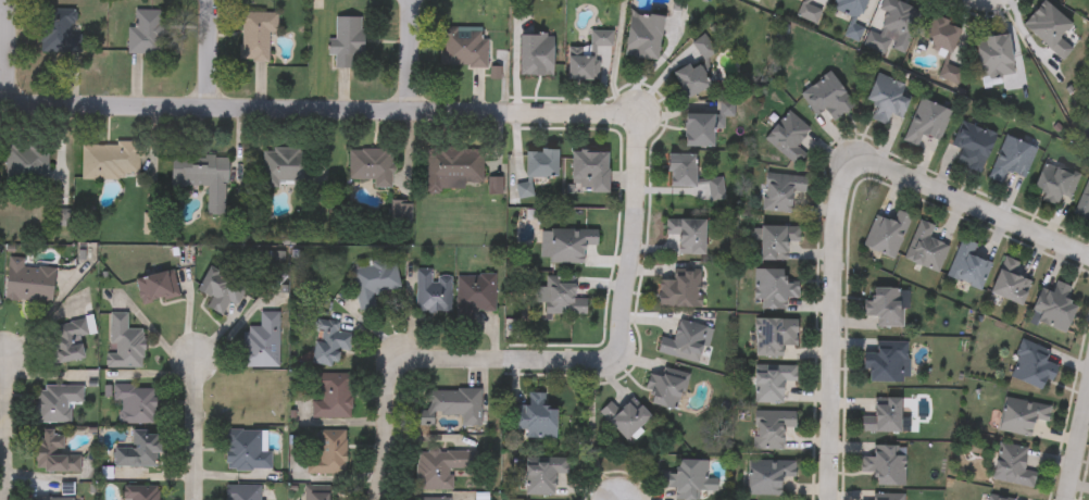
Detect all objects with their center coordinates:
road: (992, 2)
road: (998, 2)
building: (850, 13)
building: (808, 14)
building: (893, 26)
building: (1049, 28)
building: (60, 30)
building: (147, 33)
building: (942, 34)
building: (643, 35)
building: (255, 36)
building: (346, 40)
building: (465, 48)
building: (703, 48)
road: (8, 52)
road: (211, 54)
building: (537, 54)
road: (408, 55)
building: (589, 57)
building: (994, 57)
building: (691, 79)
building: (827, 98)
building: (888, 99)
road: (318, 110)
building: (926, 122)
building: (699, 129)
building: (788, 138)
building: (973, 146)
building: (1012, 159)
building: (112, 161)
building: (26, 163)
building: (542, 163)
building: (284, 166)
building: (372, 167)
building: (454, 170)
building: (681, 170)
building: (590, 171)
building: (203, 178)
building: (1056, 184)
building: (780, 193)
building: (1082, 204)
road: (971, 207)
building: (886, 235)
building: (688, 236)
road: (630, 238)
building: (775, 240)
building: (565, 246)
building: (925, 248)
building: (968, 265)
building: (374, 282)
building: (28, 283)
building: (1011, 284)
building: (157, 288)
building: (680, 288)
building: (773, 289)
building: (221, 290)
building: (434, 291)
building: (476, 293)
building: (563, 297)
building: (885, 307)
building: (1054, 308)
road: (828, 327)
building: (775, 336)
building: (65, 342)
building: (684, 342)
building: (123, 343)
building: (261, 343)
building: (330, 343)
road: (433, 360)
building: (887, 362)
building: (1034, 364)
building: (772, 383)
building: (666, 387)
building: (331, 397)
building: (55, 402)
building: (136, 403)
building: (251, 405)
building: (451, 405)
building: (1022, 415)
building: (885, 416)
building: (626, 417)
building: (536, 418)
road: (3, 426)
road: (191, 427)
building: (771, 429)
road: (1076, 438)
building: (247, 450)
building: (139, 451)
building: (51, 452)
building: (329, 452)
building: (885, 464)
building: (1012, 466)
building: (441, 467)
building: (543, 475)
building: (768, 477)
building: (688, 479)
building: (242, 492)
building: (316, 492)
building: (140, 493)
building: (886, 497)
building: (54, 498)
building: (996, 498)
building: (430, 499)

